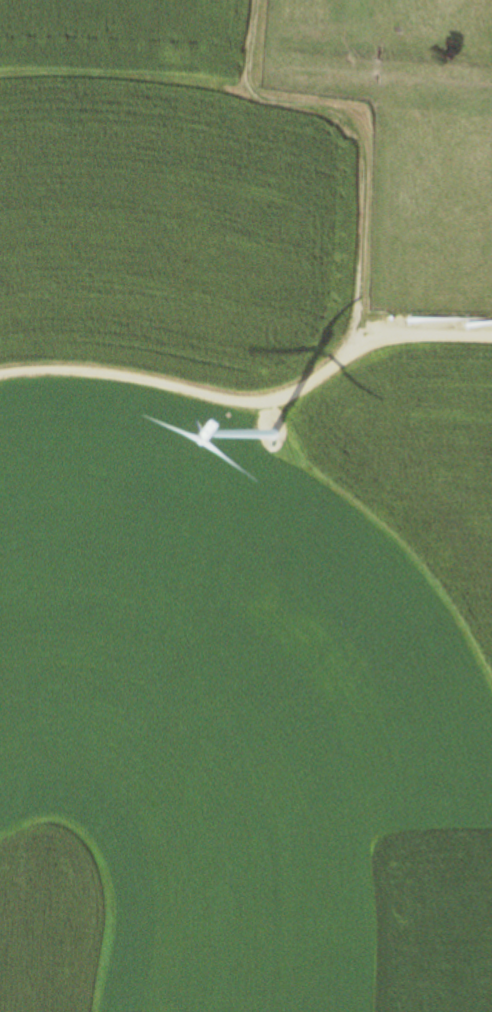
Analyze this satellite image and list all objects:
road: (250, 397)
wind turbine: (278, 449)

